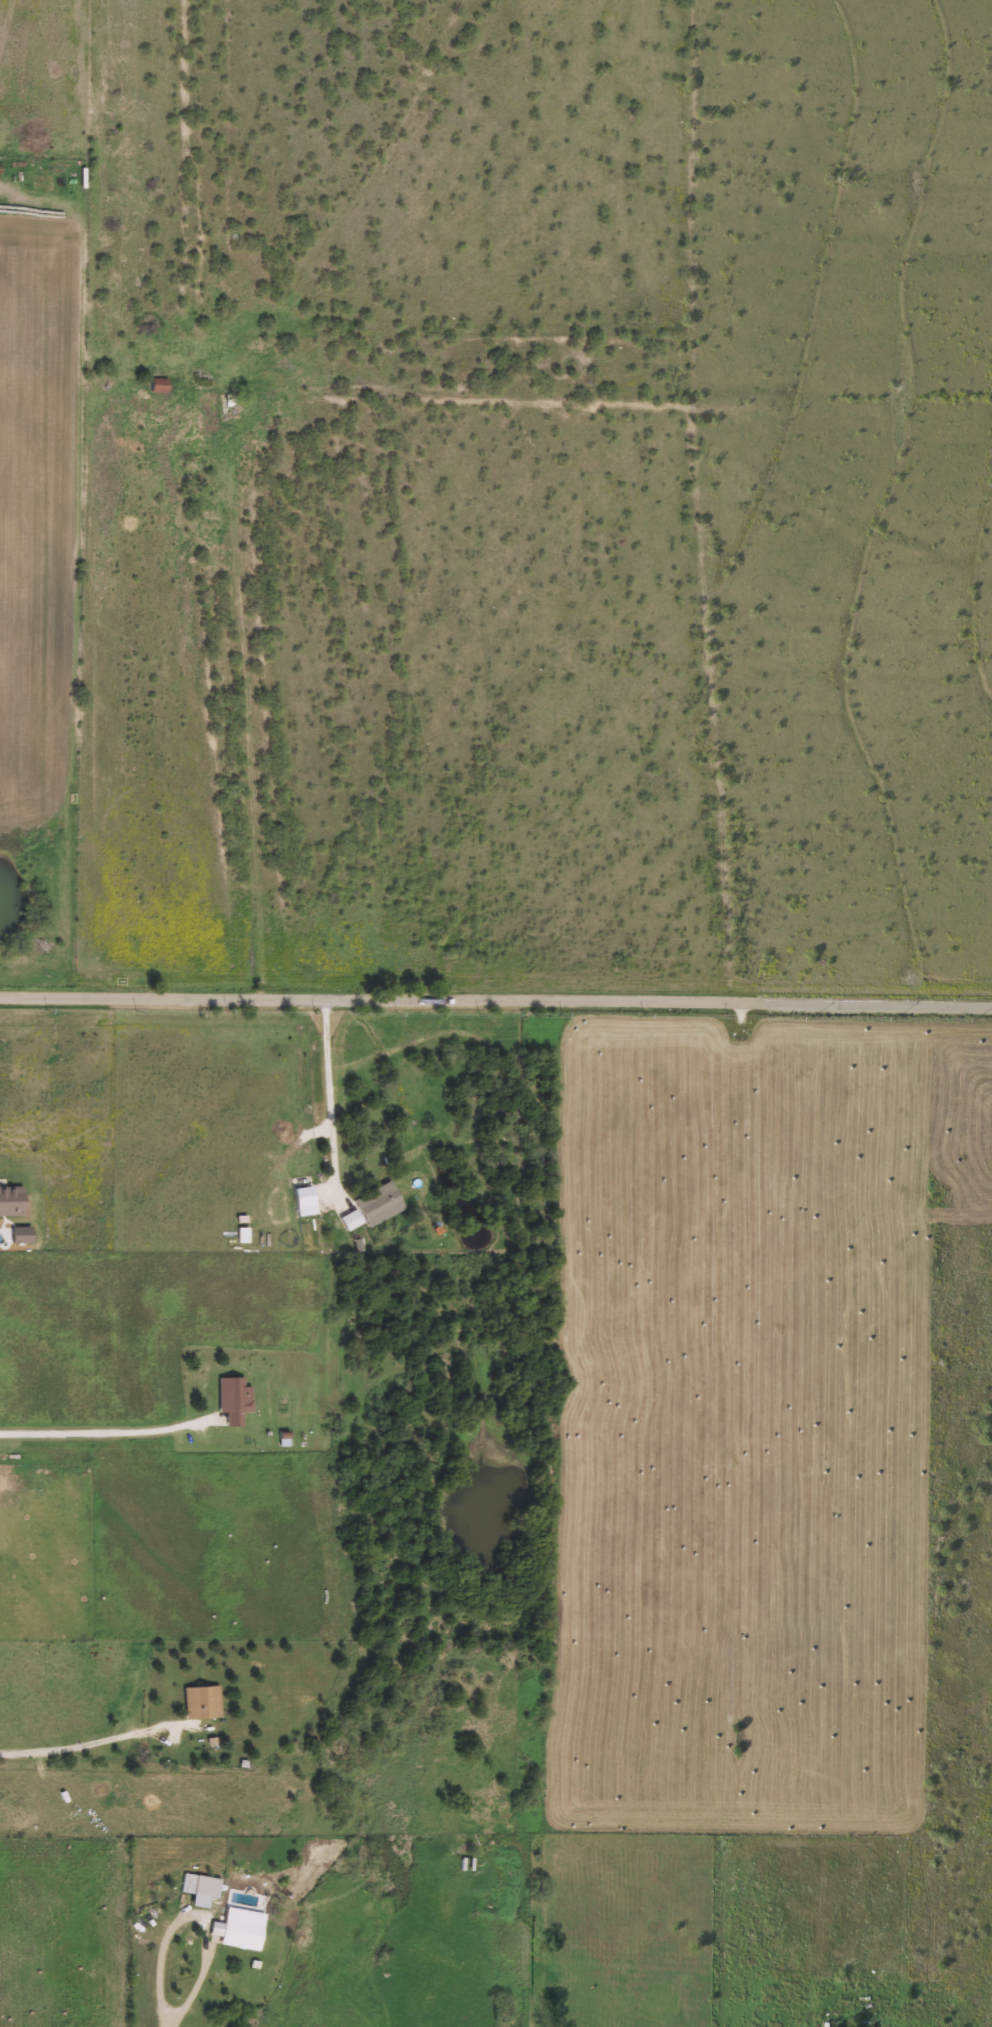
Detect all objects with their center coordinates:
building: (162, 385)
road: (496, 1001)
road: (394, 1030)
road: (331, 1105)
building: (382, 1204)
building: (237, 1400)
road: (104, 1433)
building: (205, 1703)
road: (102, 1737)
building: (468, 1865)
building: (208, 1889)
road: (198, 1914)
building: (239, 1931)
road: (168, 2022)

